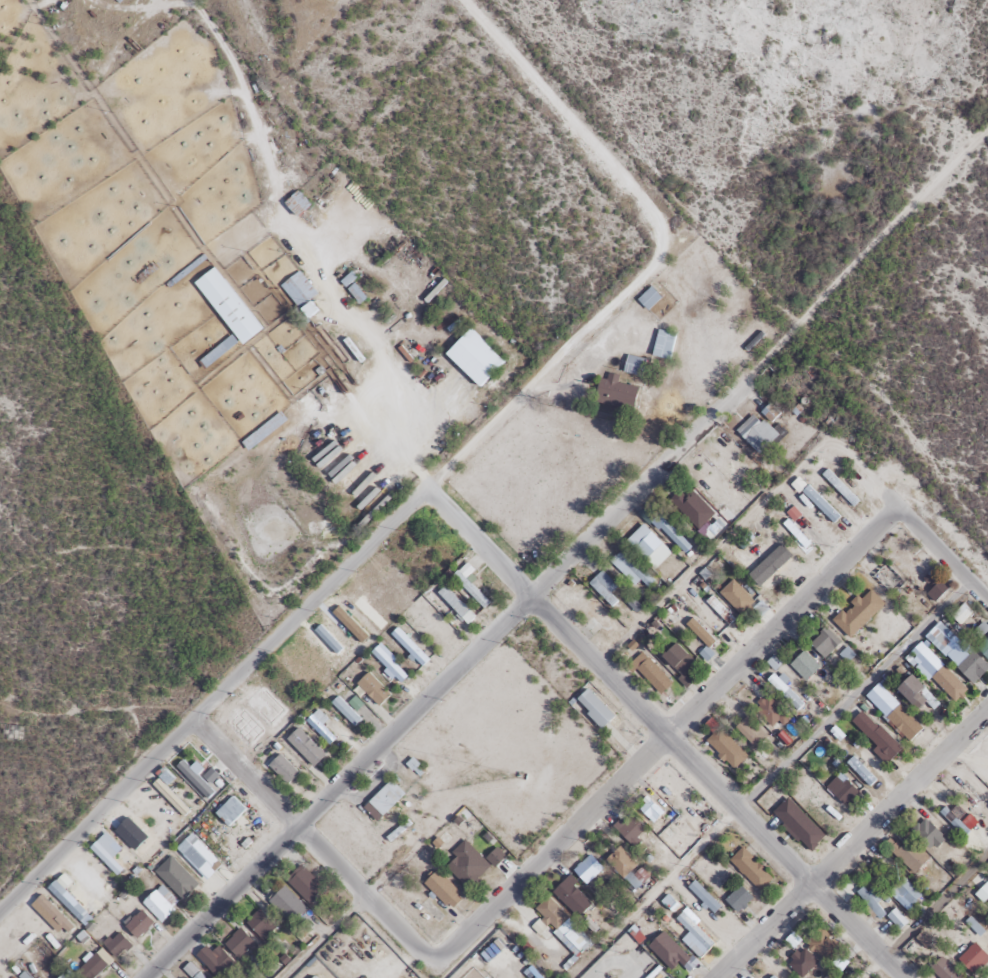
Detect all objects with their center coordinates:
road: (595, 110)
building: (295, 203)
road: (867, 256)
building: (349, 277)
building: (297, 289)
building: (647, 298)
building: (226, 305)
building: (662, 344)
building: (473, 357)
road: (551, 363)
building: (632, 365)
building: (613, 392)
building: (262, 430)
building: (757, 433)
building: (838, 487)
building: (819, 504)
building: (697, 513)
road: (924, 541)
building: (648, 547)
building: (633, 568)
building: (468, 584)
building: (605, 588)
building: (936, 589)
building: (734, 597)
building: (455, 604)
building: (718, 610)
building: (856, 613)
building: (941, 639)
building: (823, 642)
building: (984, 645)
building: (407, 646)
building: (676, 659)
building: (387, 664)
building: (803, 665)
building: (971, 668)
building: (650, 673)
building: (940, 677)
road: (444, 679)
building: (371, 688)
building: (784, 691)
building: (920, 692)
road: (212, 698)
building: (592, 708)
building: (344, 711)
building: (768, 711)
building: (892, 712)
building: (320, 727)
building: (749, 732)
road: (661, 734)
road: (662, 736)
building: (875, 737)
building: (303, 746)
building: (723, 746)
building: (281, 768)
building: (839, 790)
building: (965, 796)
building: (381, 800)
building: (649, 809)
building: (228, 810)
building: (953, 821)
building: (629, 828)
road: (839, 832)
building: (926, 834)
road: (311, 843)
building: (196, 854)
building: (619, 861)
building: (465, 863)
building: (586, 868)
building: (749, 868)
power tower: (904, 872)
building: (303, 886)
building: (442, 889)
building: (903, 893)
building: (983, 893)
building: (702, 895)
building: (571, 896)
building: (736, 898)
building: (870, 902)
building: (158, 903)
building: (285, 904)
road: (934, 906)
building: (975, 922)
building: (137, 923)
building: (260, 923)
building: (559, 923)
building: (693, 936)
road: (321, 937)
building: (238, 942)
building: (820, 943)
building: (115, 944)
power tower: (617, 948)
building: (670, 953)
building: (971, 958)
road: (613, 960)
building: (215, 961)
building: (801, 961)
building: (85, 968)
building: (942, 969)
building: (197, 975)
building: (771, 976)
road: (986, 976)
building: (311, 977)

